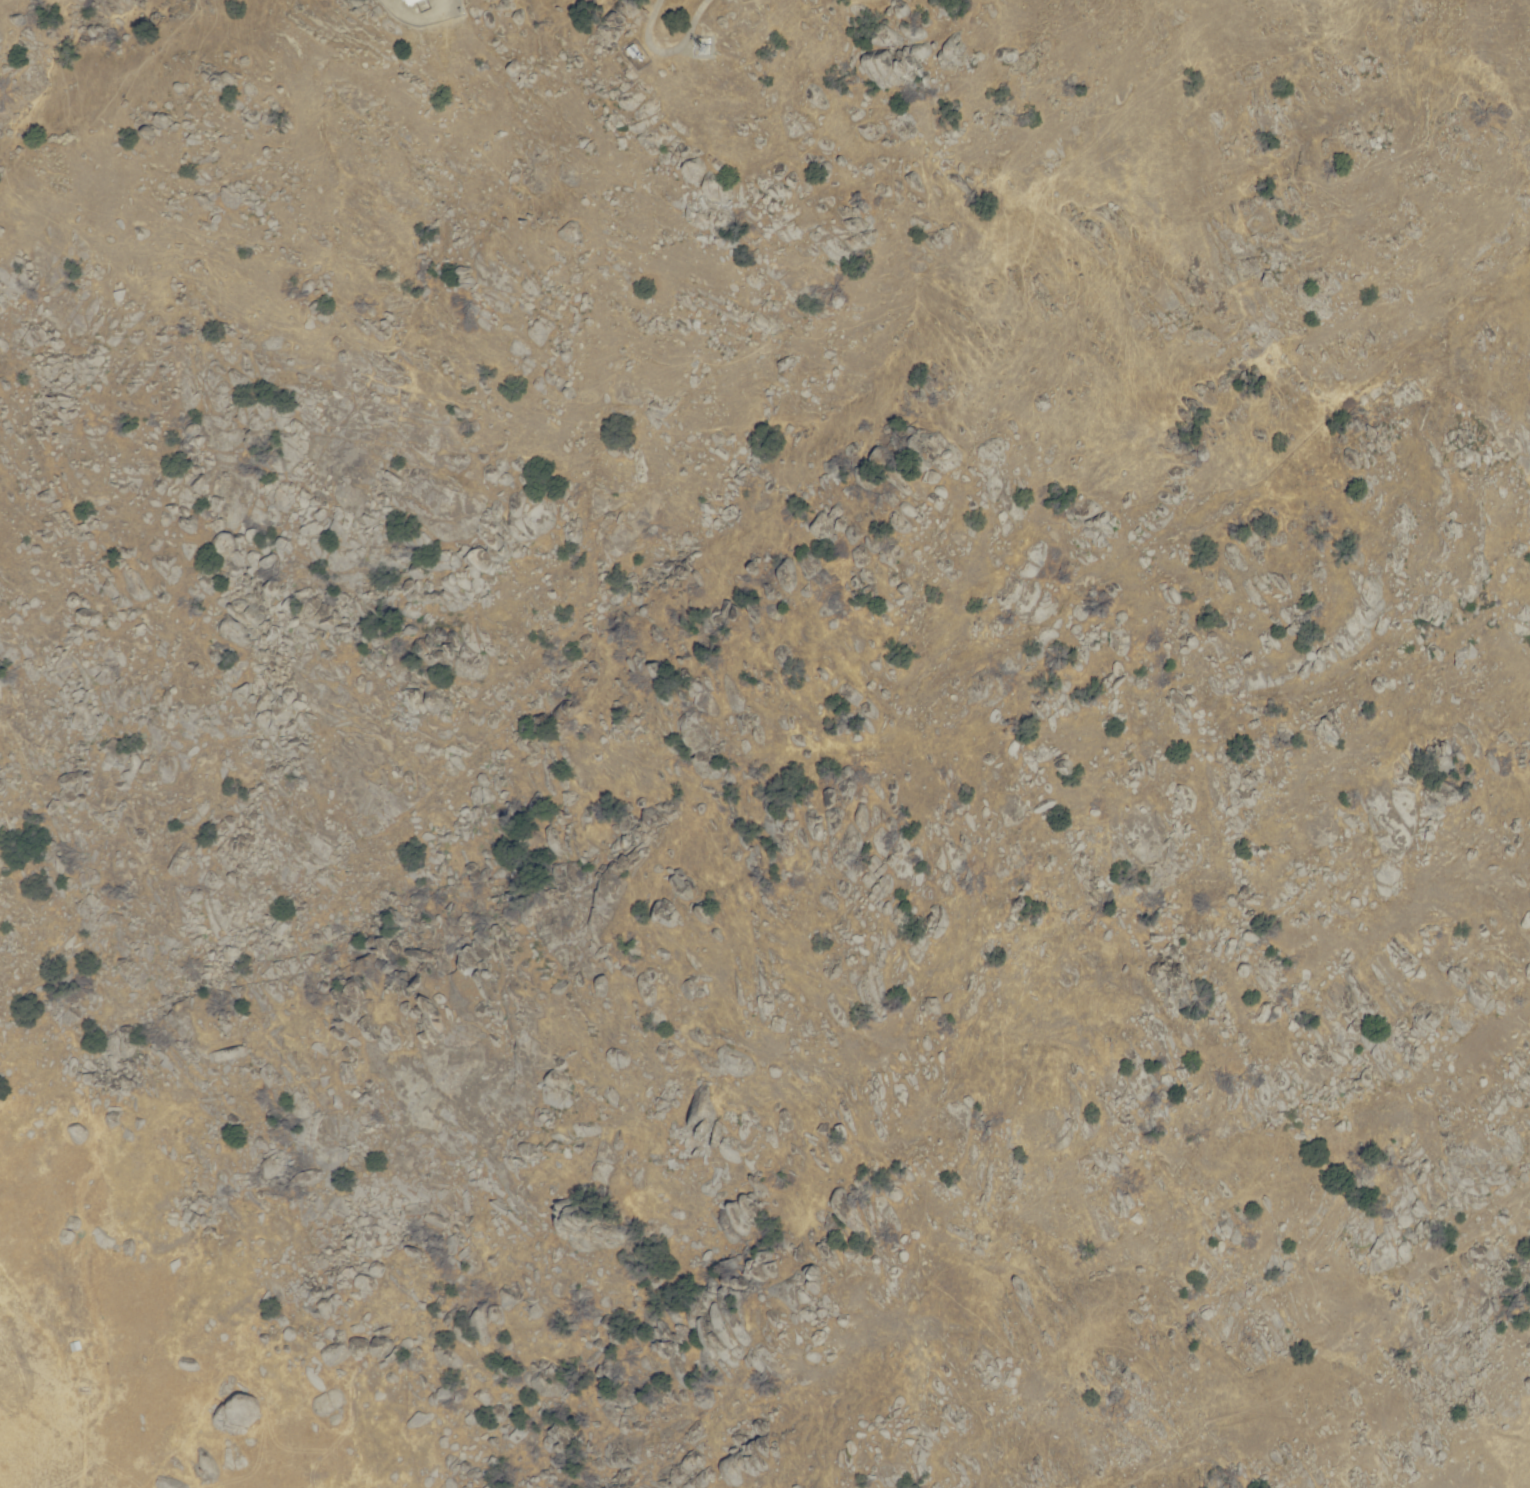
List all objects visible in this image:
building: (411, 1)
road: (415, 15)
road: (666, 53)
crop: (1510, 1468)

